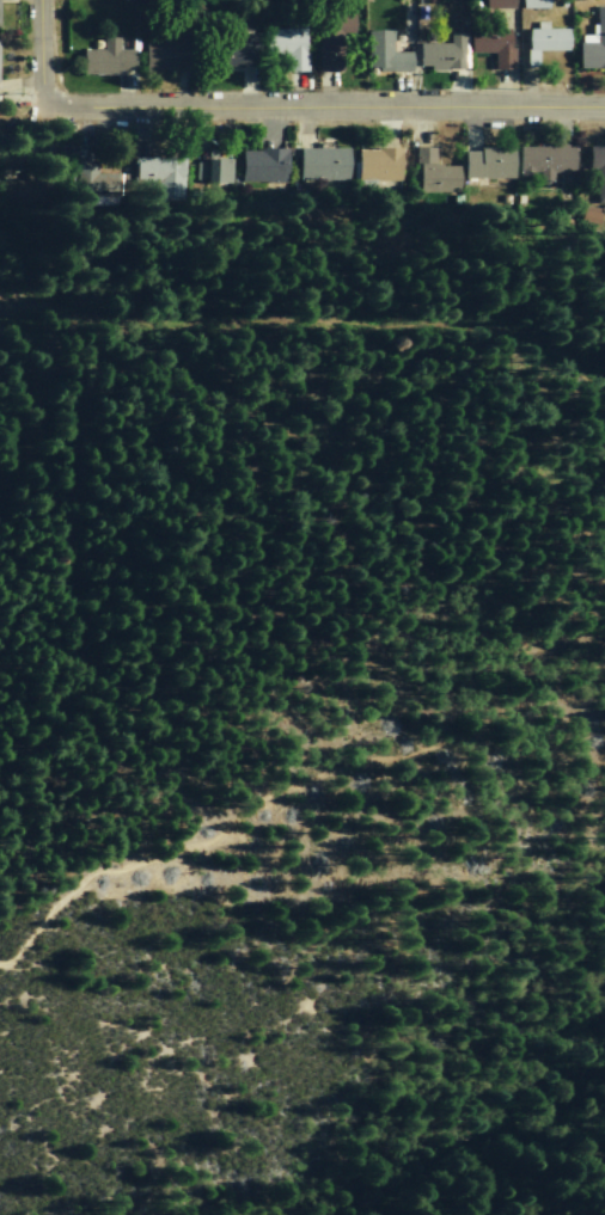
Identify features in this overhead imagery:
building: (500, 4)
building: (536, 4)
building: (548, 38)
building: (495, 47)
building: (292, 48)
building: (238, 51)
road: (39, 53)
building: (444, 54)
building: (391, 55)
building: (163, 56)
building: (109, 59)
road: (323, 106)
building: (546, 160)
building: (489, 162)
building: (323, 164)
building: (378, 164)
building: (263, 165)
building: (598, 170)
building: (219, 171)
building: (435, 172)
building: (160, 173)
building: (94, 180)
building: (591, 215)

